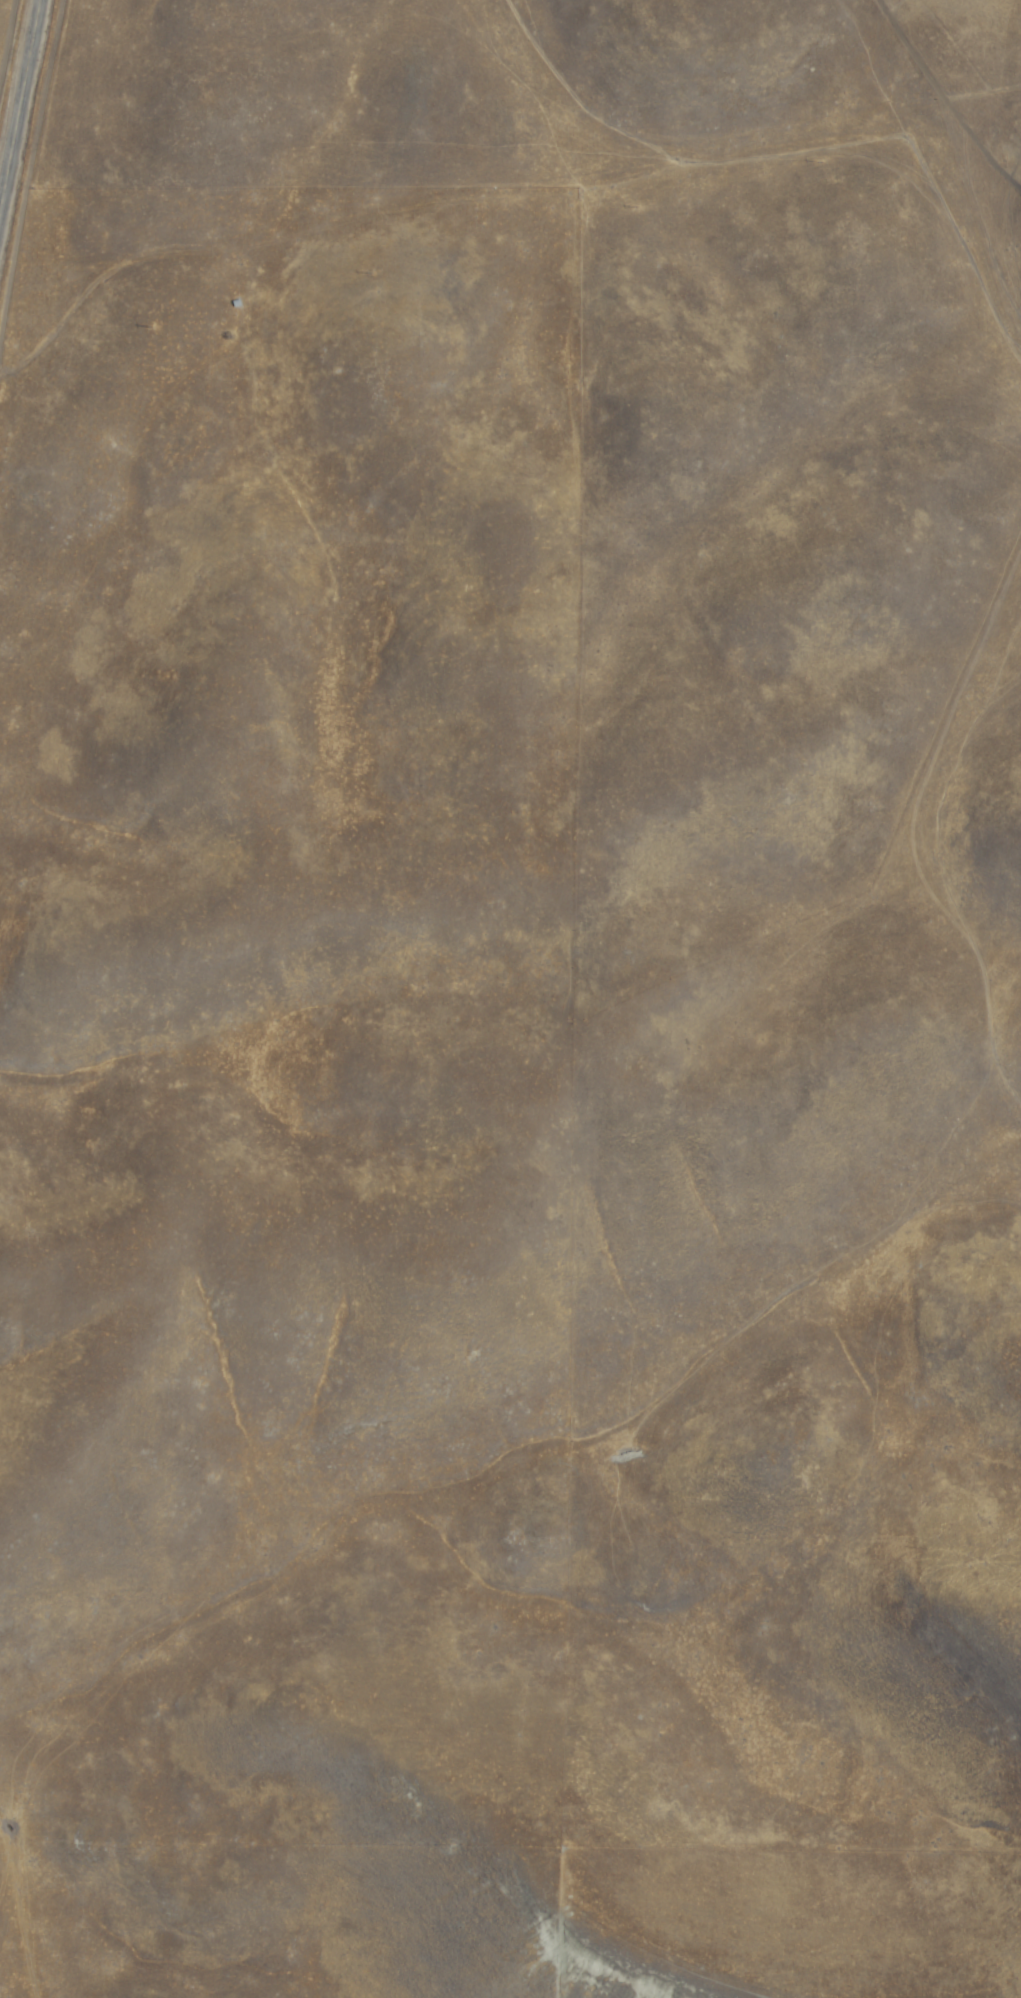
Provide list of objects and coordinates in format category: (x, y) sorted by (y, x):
road: (19, 98)

